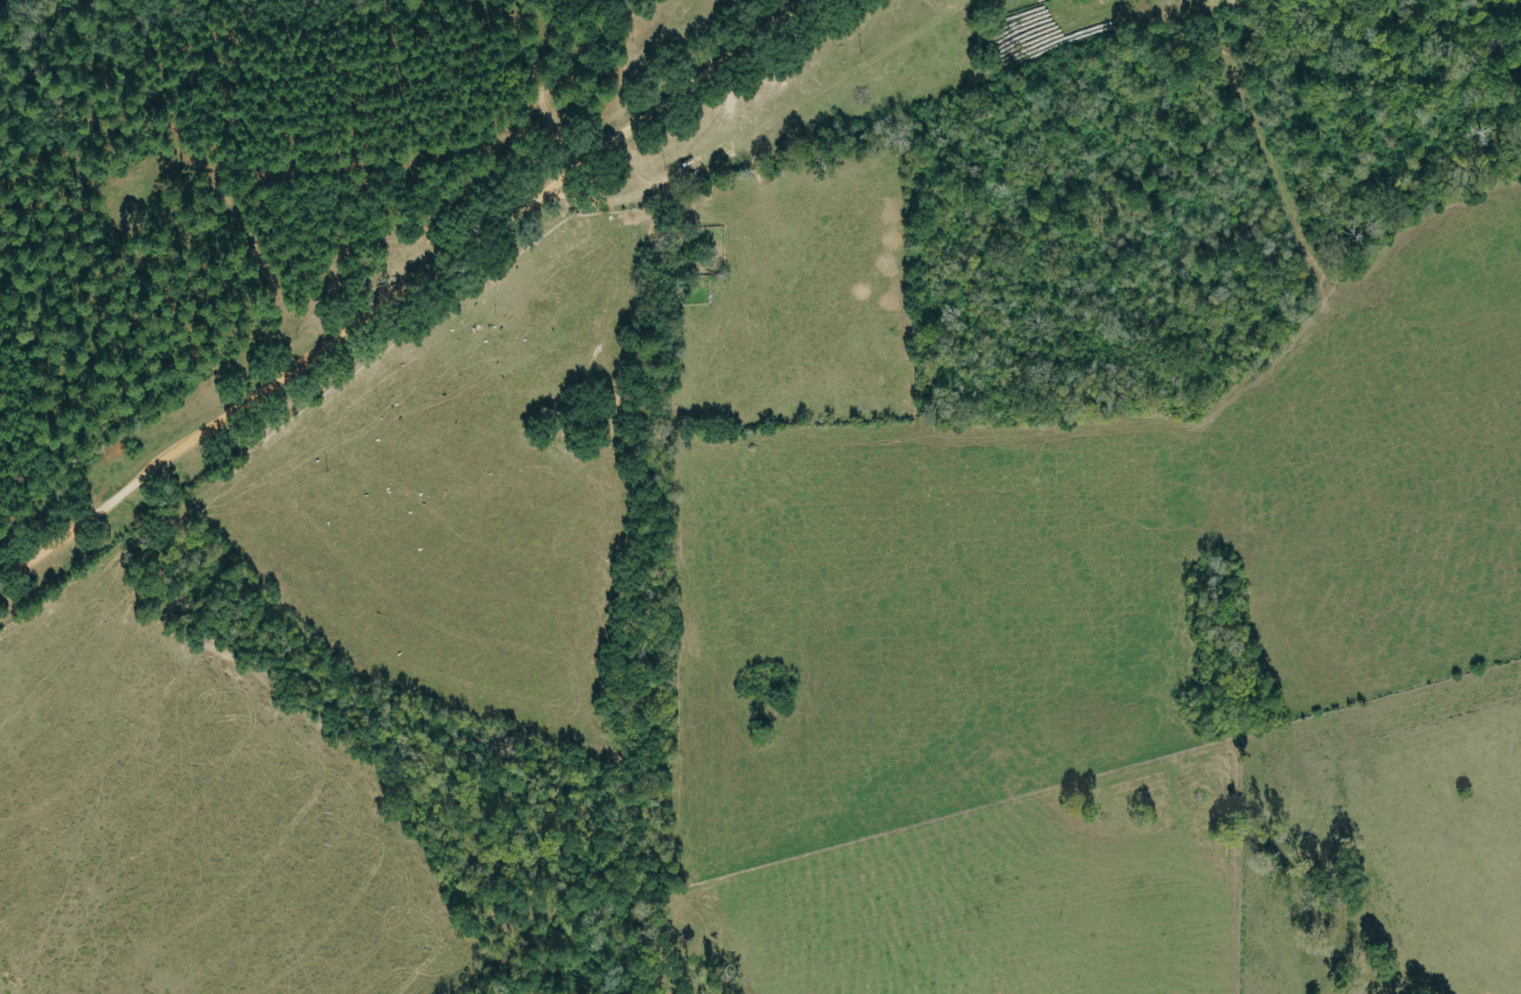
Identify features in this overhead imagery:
road: (403, 290)

